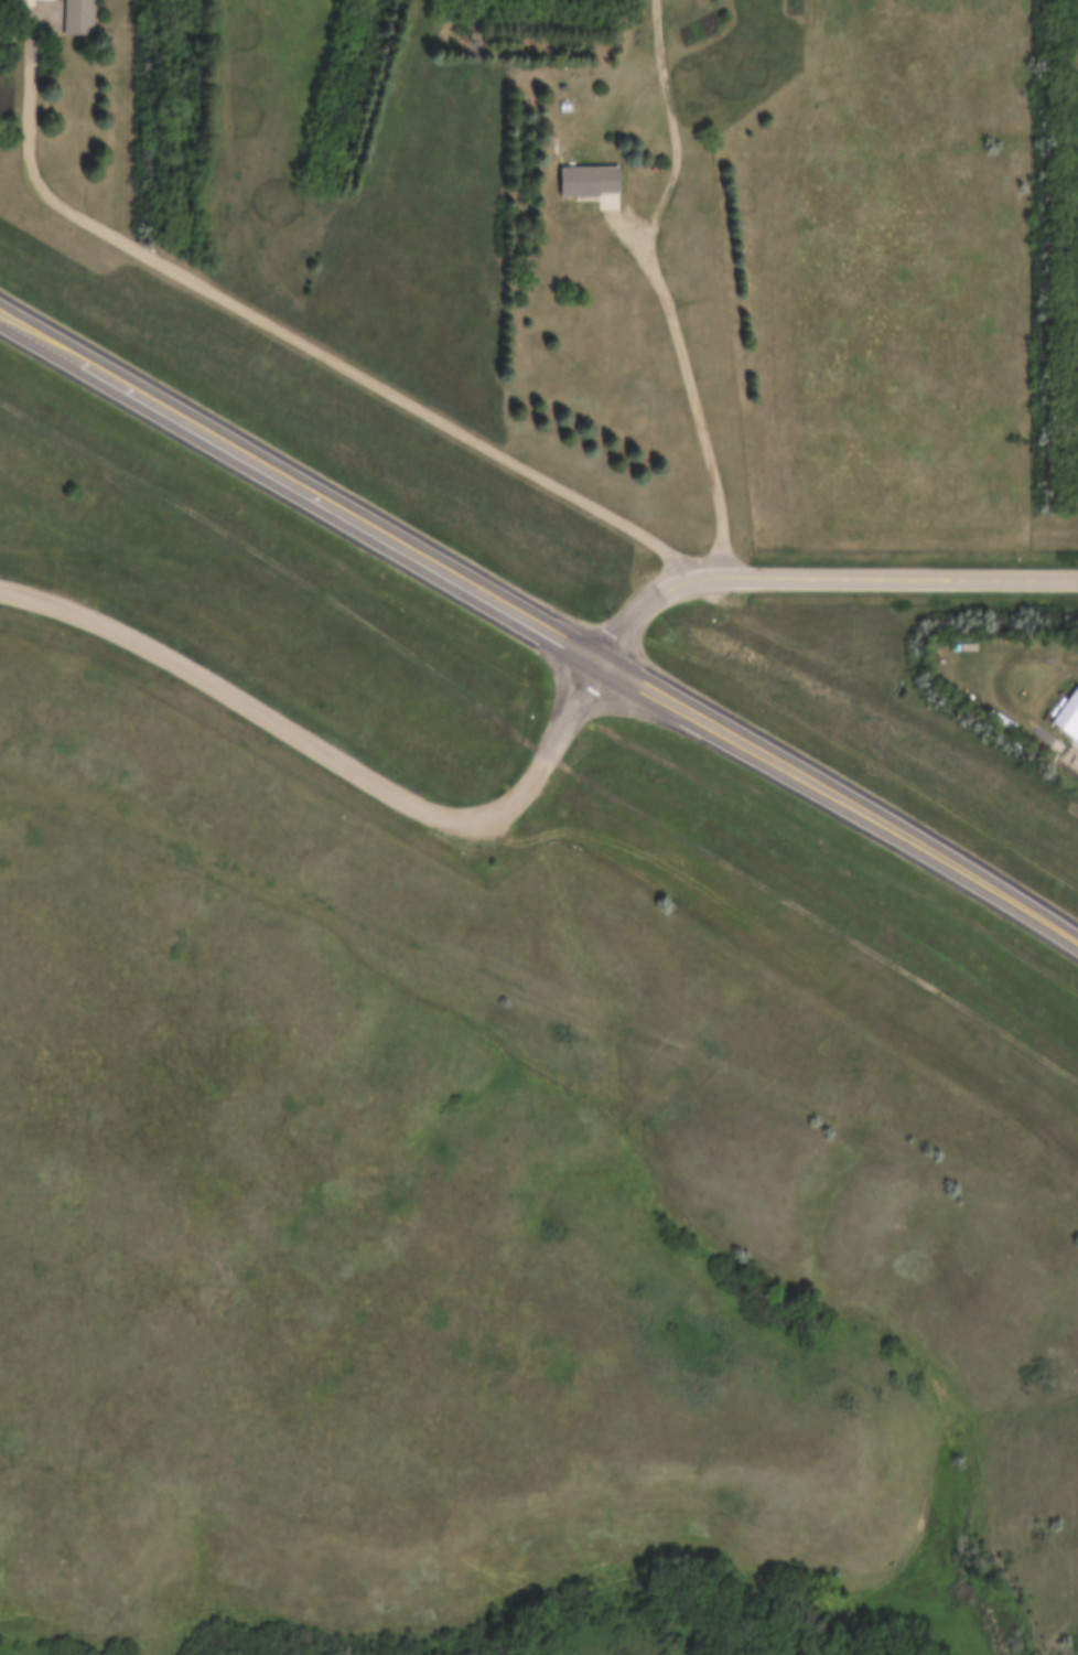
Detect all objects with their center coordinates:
building: (78, 18)
road: (35, 22)
building: (590, 184)
road: (664, 287)
road: (311, 341)
road: (826, 576)
road: (541, 617)
building: (1068, 717)
road: (332, 753)

